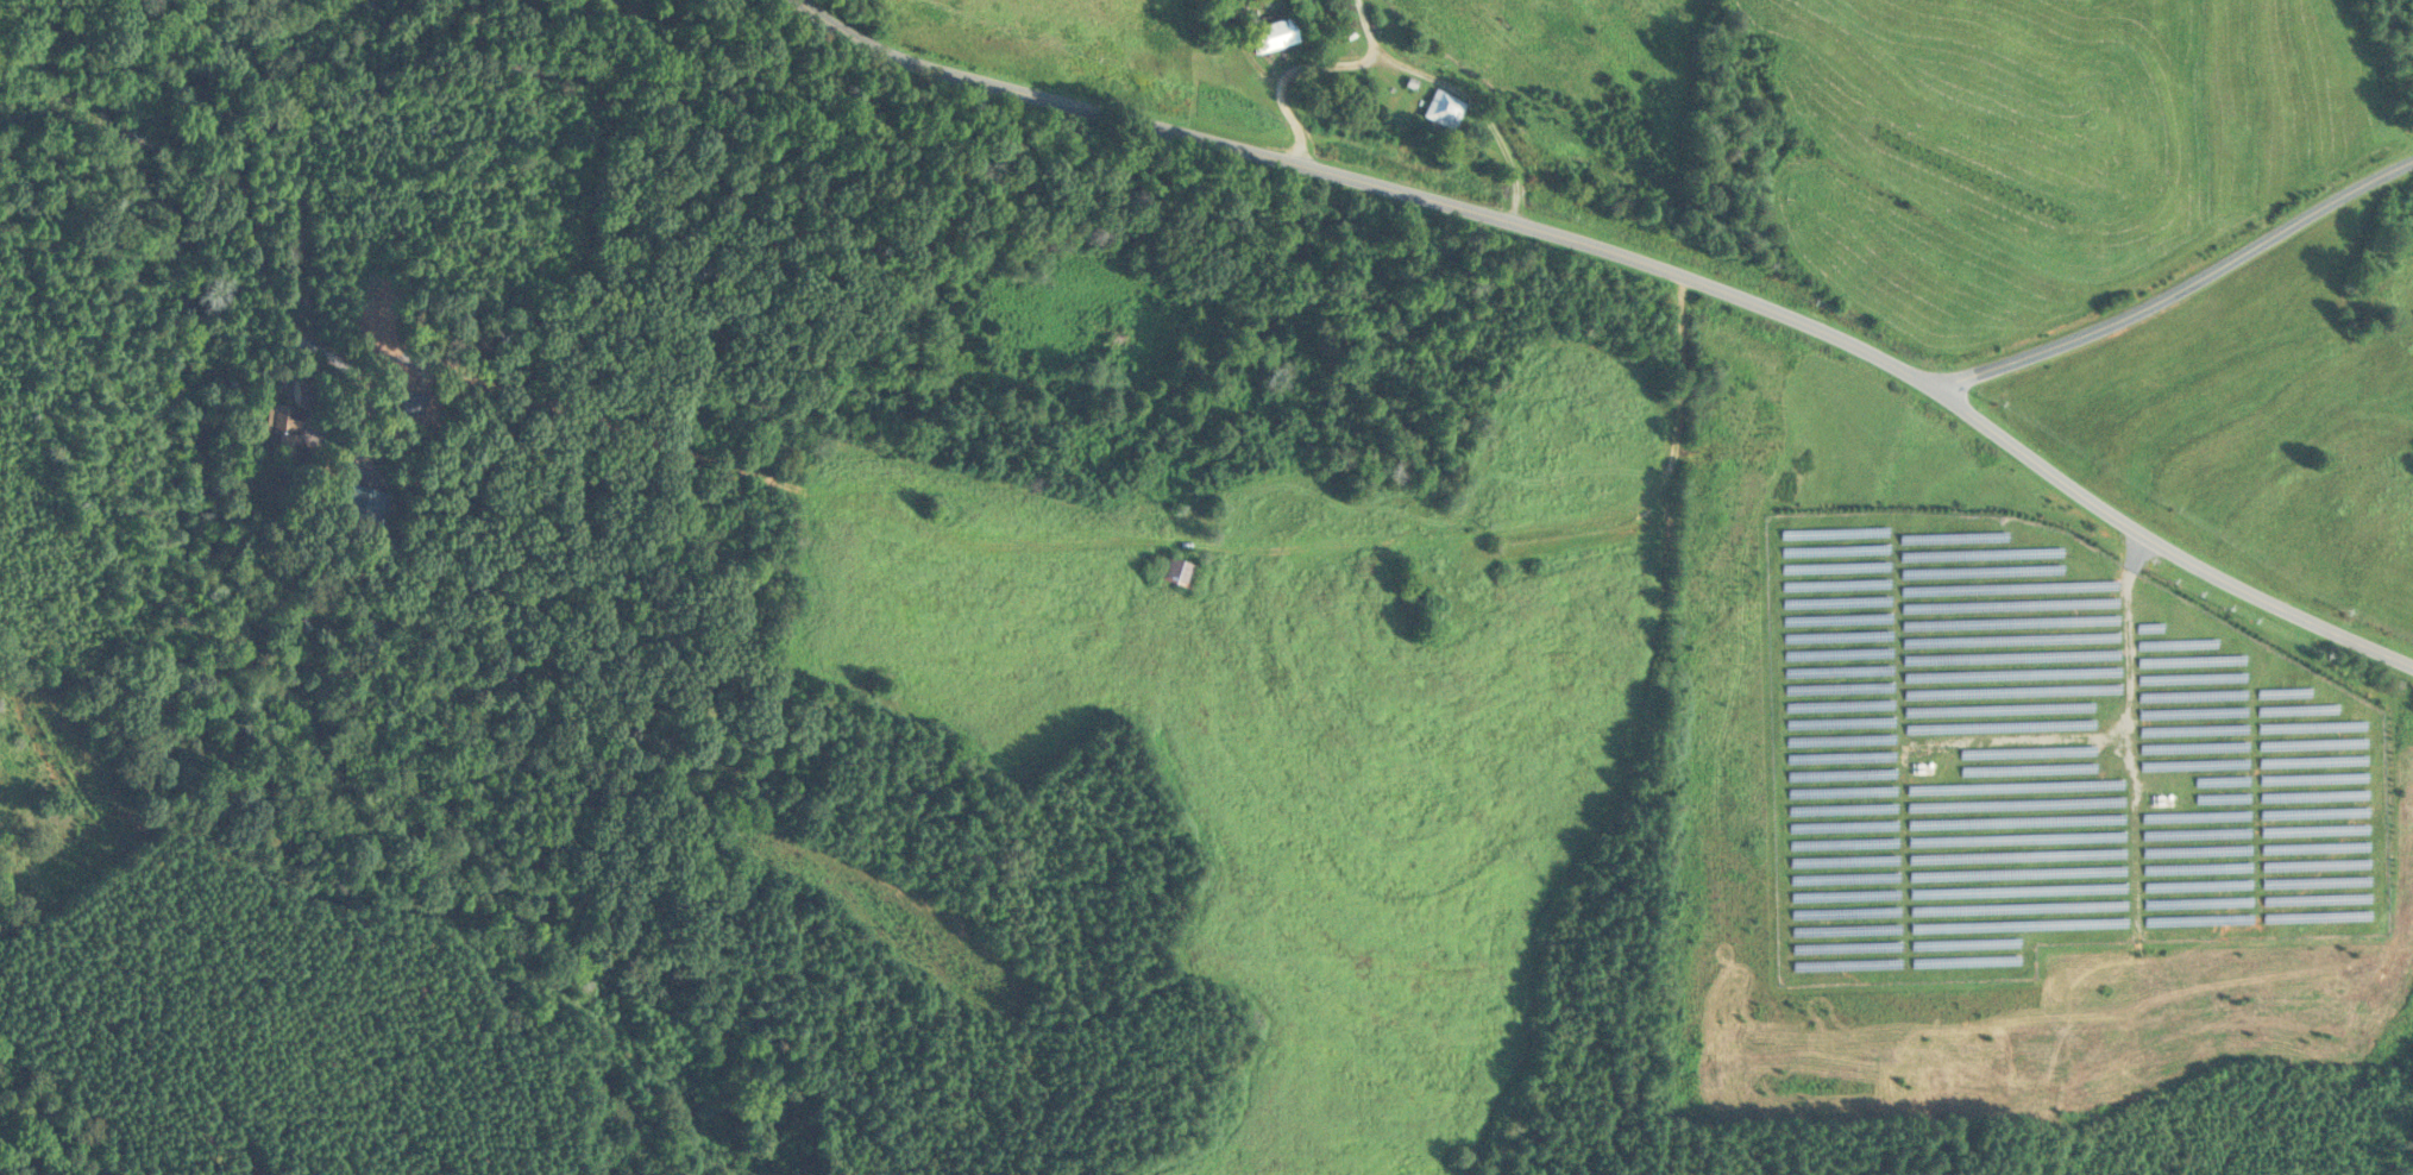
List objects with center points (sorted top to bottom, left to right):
building: (1271, 32)
road: (1309, 67)
road: (323, 96)
building: (1443, 107)
road: (1481, 107)
road: (1647, 263)
road: (2182, 289)
building: (281, 417)
road: (1641, 488)
building: (362, 501)
building: (1175, 568)

